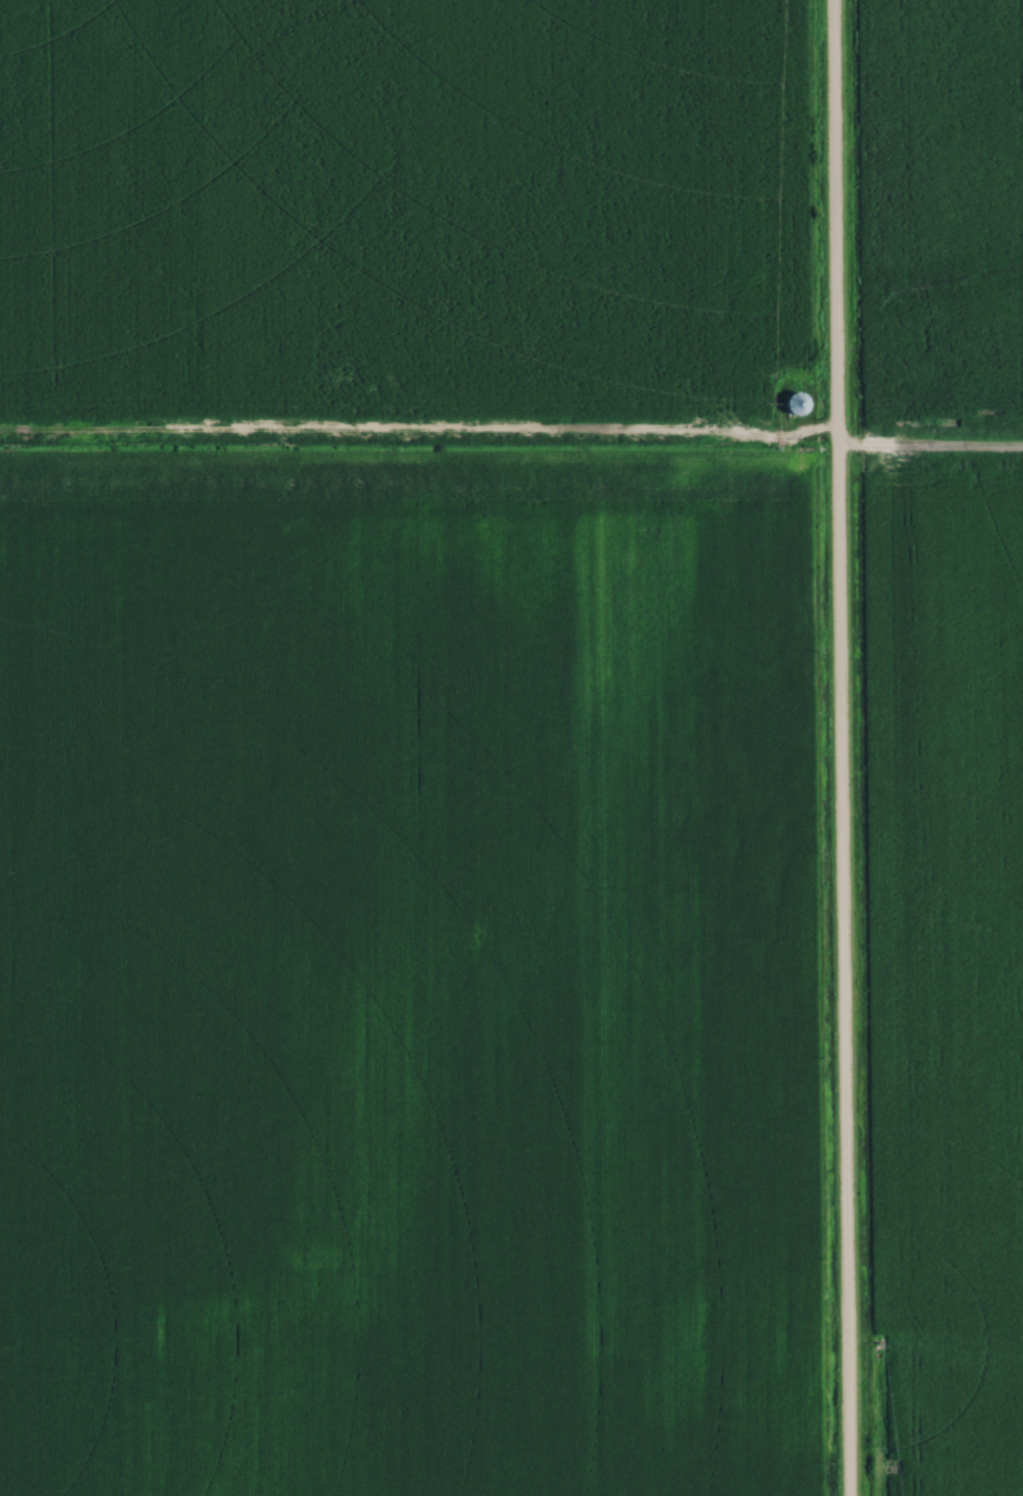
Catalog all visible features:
building: (792, 405)
road: (839, 748)

